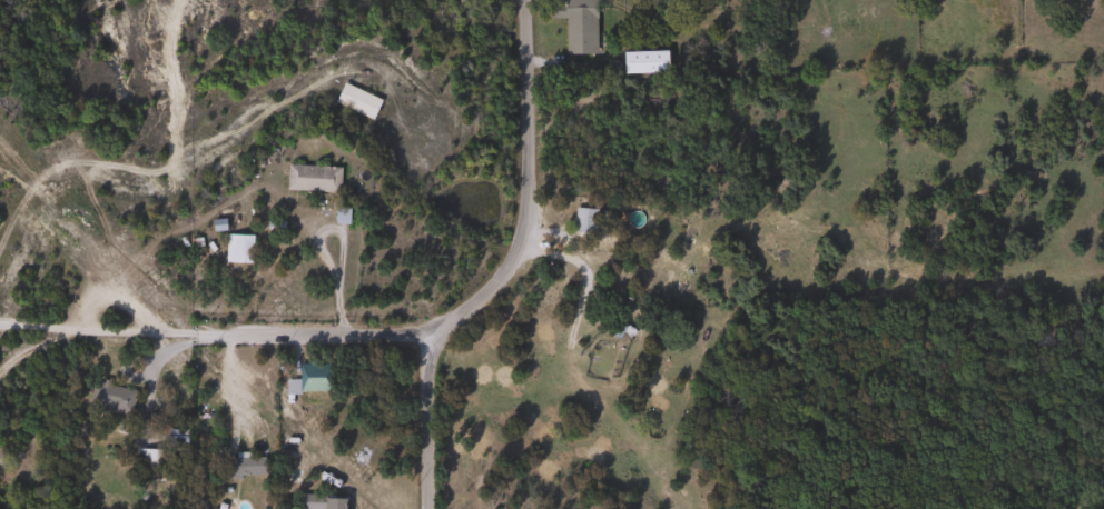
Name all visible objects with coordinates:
building: (453, 0)
building: (574, 24)
building: (642, 62)
building: (355, 101)
building: (310, 179)
building: (584, 223)
building: (236, 249)
road: (490, 276)
road: (579, 300)
road: (111, 330)
building: (618, 332)
building: (308, 379)
building: (110, 398)
road: (424, 419)
building: (172, 438)
building: (3, 453)
building: (241, 468)
building: (319, 502)

